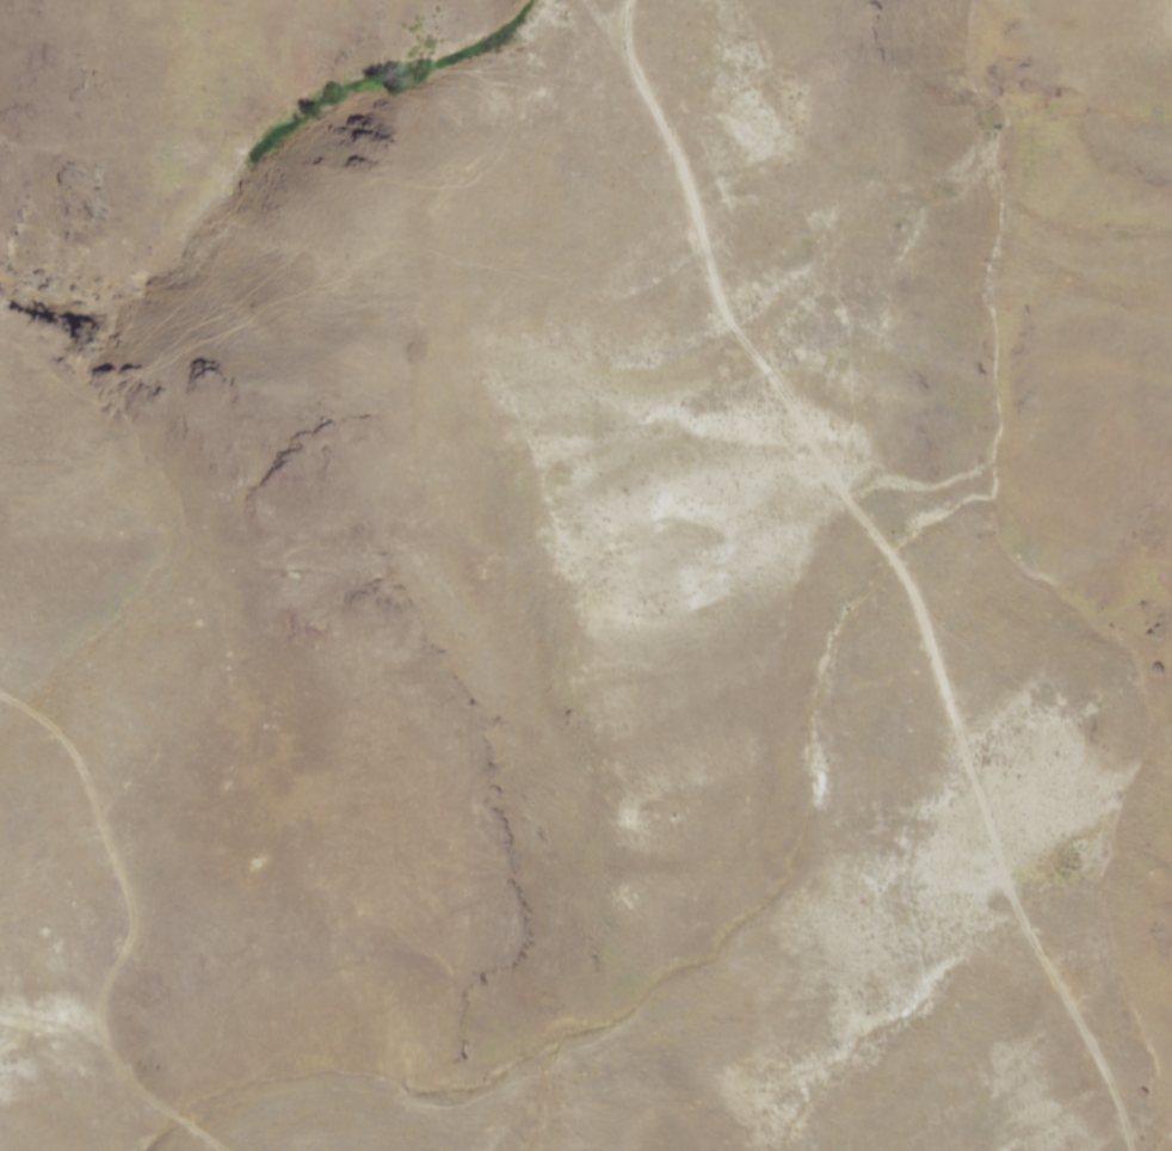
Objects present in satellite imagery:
road: (600, 19)
road: (893, 562)
road: (130, 928)
road: (302, 1098)

